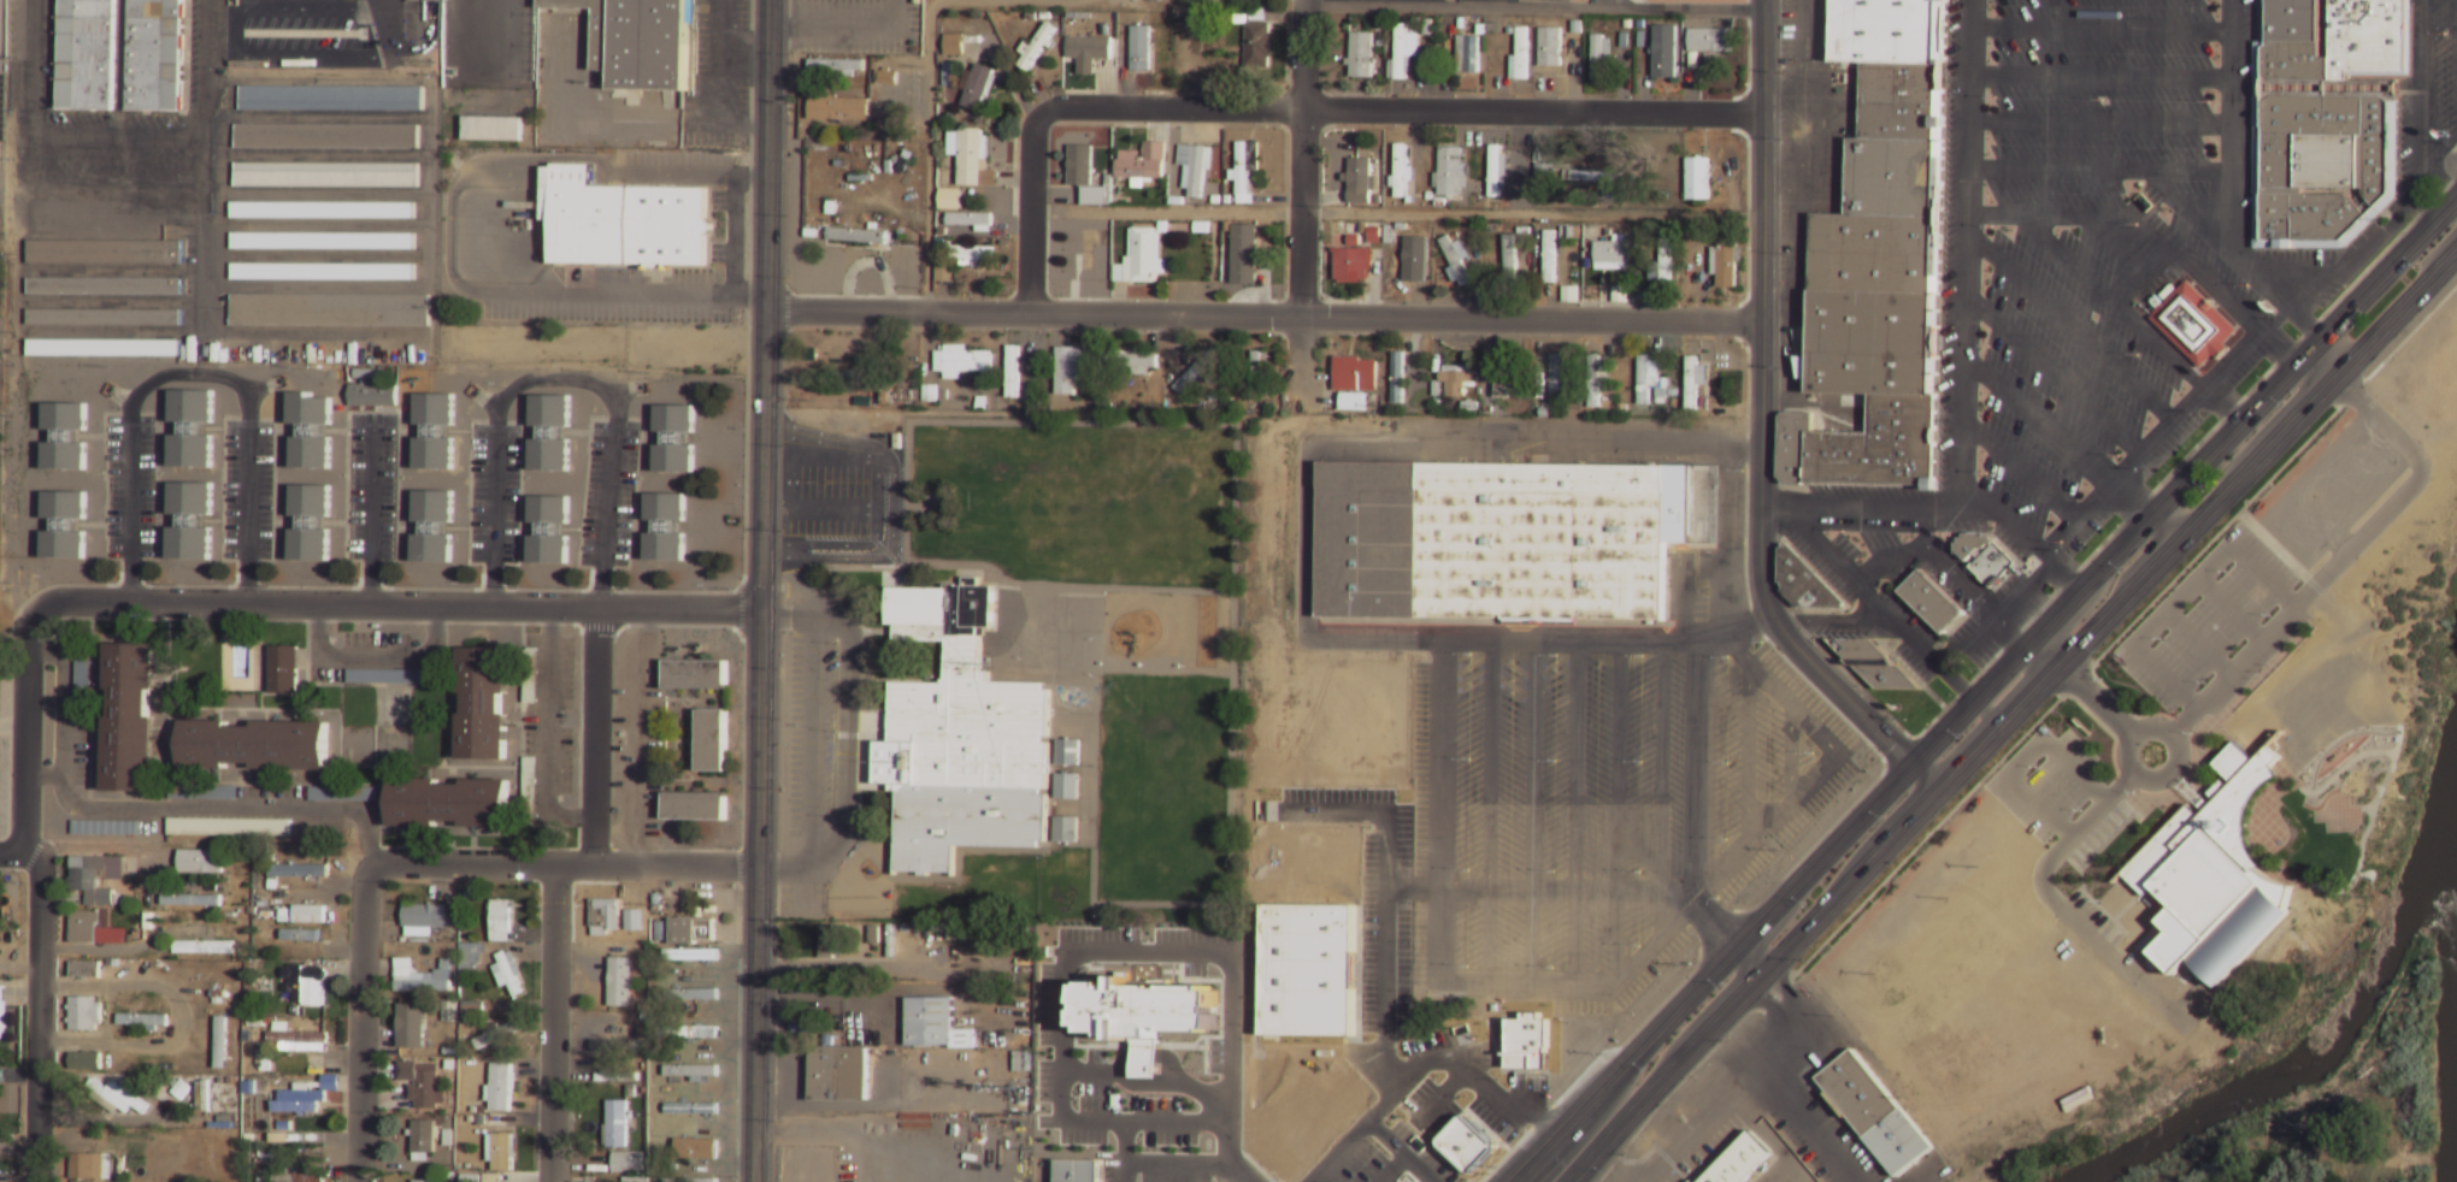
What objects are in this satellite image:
building: (424, 1)
building: (1214, 13)
building: (637, 41)
building: (1704, 43)
building: (953, 47)
building: (1089, 47)
building: (1257, 48)
building: (1035, 49)
building: (1550, 49)
building: (86, 54)
building: (153, 54)
building: (1136, 55)
building: (1401, 55)
building: (1466, 55)
building: (1666, 55)
building: (1354, 58)
building: (1520, 58)
building: (1598, 60)
building: (1710, 63)
building: (836, 69)
building: (977, 89)
building: (331, 101)
building: (837, 112)
road: (1302, 112)
building: (2329, 117)
building: (490, 128)
building: (328, 138)
building: (967, 155)
building: (1077, 170)
building: (1137, 170)
building: (1191, 171)
building: (1357, 173)
building: (1400, 173)
building: (1543, 173)
building: (1450, 175)
building: (1496, 175)
building: (1244, 176)
building: (328, 178)
building: (1596, 179)
building: (1692, 185)
road: (1304, 196)
building: (1095, 199)
building: (948, 201)
building: (324, 213)
building: (967, 220)
building: (620, 221)
building: (856, 236)
building: (325, 238)
building: (105, 249)
building: (1085, 250)
building: (1614, 253)
building: (972, 254)
building: (1244, 254)
building: (1141, 255)
building: (1404, 255)
building: (1456, 256)
building: (1509, 256)
building: (1548, 256)
building: (1663, 256)
building: (1725, 259)
building: (1202, 261)
building: (1350, 261)
building: (1880, 261)
building: (324, 268)
building: (105, 284)
road: (766, 305)
building: (331, 308)
road: (1262, 313)
building: (104, 314)
building: (2193, 323)
building: (105, 345)
building: (960, 359)
building: (1131, 359)
building: (1067, 366)
building: (1194, 370)
building: (1011, 372)
building: (1256, 372)
building: (1354, 372)
building: (1397, 374)
building: (1554, 374)
building: (1498, 376)
building: (1549, 376)
building: (1646, 376)
building: (841, 377)
building: (1459, 377)
building: (1210, 378)
building: (1596, 378)
building: (1695, 378)
building: (370, 395)
building: (929, 395)
building: (190, 429)
road: (1760, 429)
building: (310, 431)
building: (434, 432)
building: (549, 433)
building: (64, 436)
road: (2385, 436)
building: (673, 439)
parking lot: (2328, 489)
building: (189, 521)
building: (310, 524)
building: (63, 525)
building: (432, 526)
building: (664, 527)
building: (1707, 528)
building: (548, 530)
building: (1497, 540)
road: (2356, 543)
road: (2341, 545)
building: (1984, 559)
building: (1802, 583)
road: (2182, 598)
building: (1931, 602)
road: (396, 604)
road: (2231, 611)
parking lot: (2203, 617)
road: (2197, 646)
building: (1867, 658)
building: (285, 668)
building: (699, 672)
building: (387, 676)
road: (1981, 682)
building: (487, 699)
road: (2094, 699)
building: (132, 713)
road: (2011, 713)
road: (24, 732)
road: (595, 734)
building: (709, 737)
building: (960, 740)
building: (258, 743)
road: (2176, 743)
building: (1067, 753)
road: (2025, 758)
road: (2344, 767)
parking lot: (2045, 782)
building: (1067, 787)
building: (318, 794)
building: (453, 800)
building: (695, 803)
road: (2344, 812)
road: (2373, 814)
parking lot: (1598, 815)
building: (104, 829)
building: (226, 829)
building: (1066, 831)
parking lot: (2099, 833)
road: (2264, 835)
building: (263, 852)
road: (11, 855)
road: (571, 863)
building: (198, 864)
building: (301, 869)
building: (2213, 877)
building: (93, 880)
road: (2332, 892)
road: (755, 894)
building: (189, 903)
building: (505, 908)
building: (612, 908)
road: (2063, 912)
building: (308, 915)
building: (428, 915)
parking lot: (2094, 920)
building: (694, 928)
building: (297, 930)
building: (92, 932)
building: (299, 936)
building: (826, 942)
building: (202, 947)
road: (1067, 952)
building: (471, 953)
building: (696, 958)
building: (966, 962)
building: (83, 970)
building: (509, 970)
building: (422, 976)
building: (624, 981)
building: (305, 988)
building: (693, 993)
road: (2187, 998)
building: (0, 1007)
building: (476, 1010)
road: (39, 1013)
building: (82, 1015)
building: (1145, 1015)
road: (360, 1016)
building: (141, 1021)
building: (432, 1021)
road: (552, 1023)
building: (935, 1023)
building: (805, 1027)
building: (409, 1029)
building: (699, 1030)
building: (502, 1032)
building: (300, 1036)
river: (2328, 1036)
building: (617, 1042)
building: (219, 1044)
building: (83, 1062)
building: (1520, 1062)
road: (1126, 1066)
building: (691, 1069)
building: (837, 1075)
building: (619, 1076)
building: (417, 1081)
road: (1174, 1083)
building: (252, 1086)
building: (503, 1086)
building: (179, 1091)
building: (307, 1095)
building: (118, 1097)
building: (2076, 1101)
building: (697, 1106)
building: (1874, 1112)
road: (1377, 1116)
building: (619, 1122)
building: (426, 1135)
building: (450, 1136)
building: (311, 1139)
building: (694, 1145)
building: (503, 1150)
road: (1126, 1152)
road: (1226, 1153)
building: (1733, 1160)
building: (630, 1162)
road: (2434, 1162)
road: (1176, 1165)
road: (2387, 1165)
road: (1398, 1166)
building: (88, 1168)
building: (1463, 1168)
building: (1078, 1171)
road: (1581, 1174)
building: (300, 1176)
building: (483, 1177)
road: (1045, 1177)
building: (691, 1180)
building: (426, 1181)

